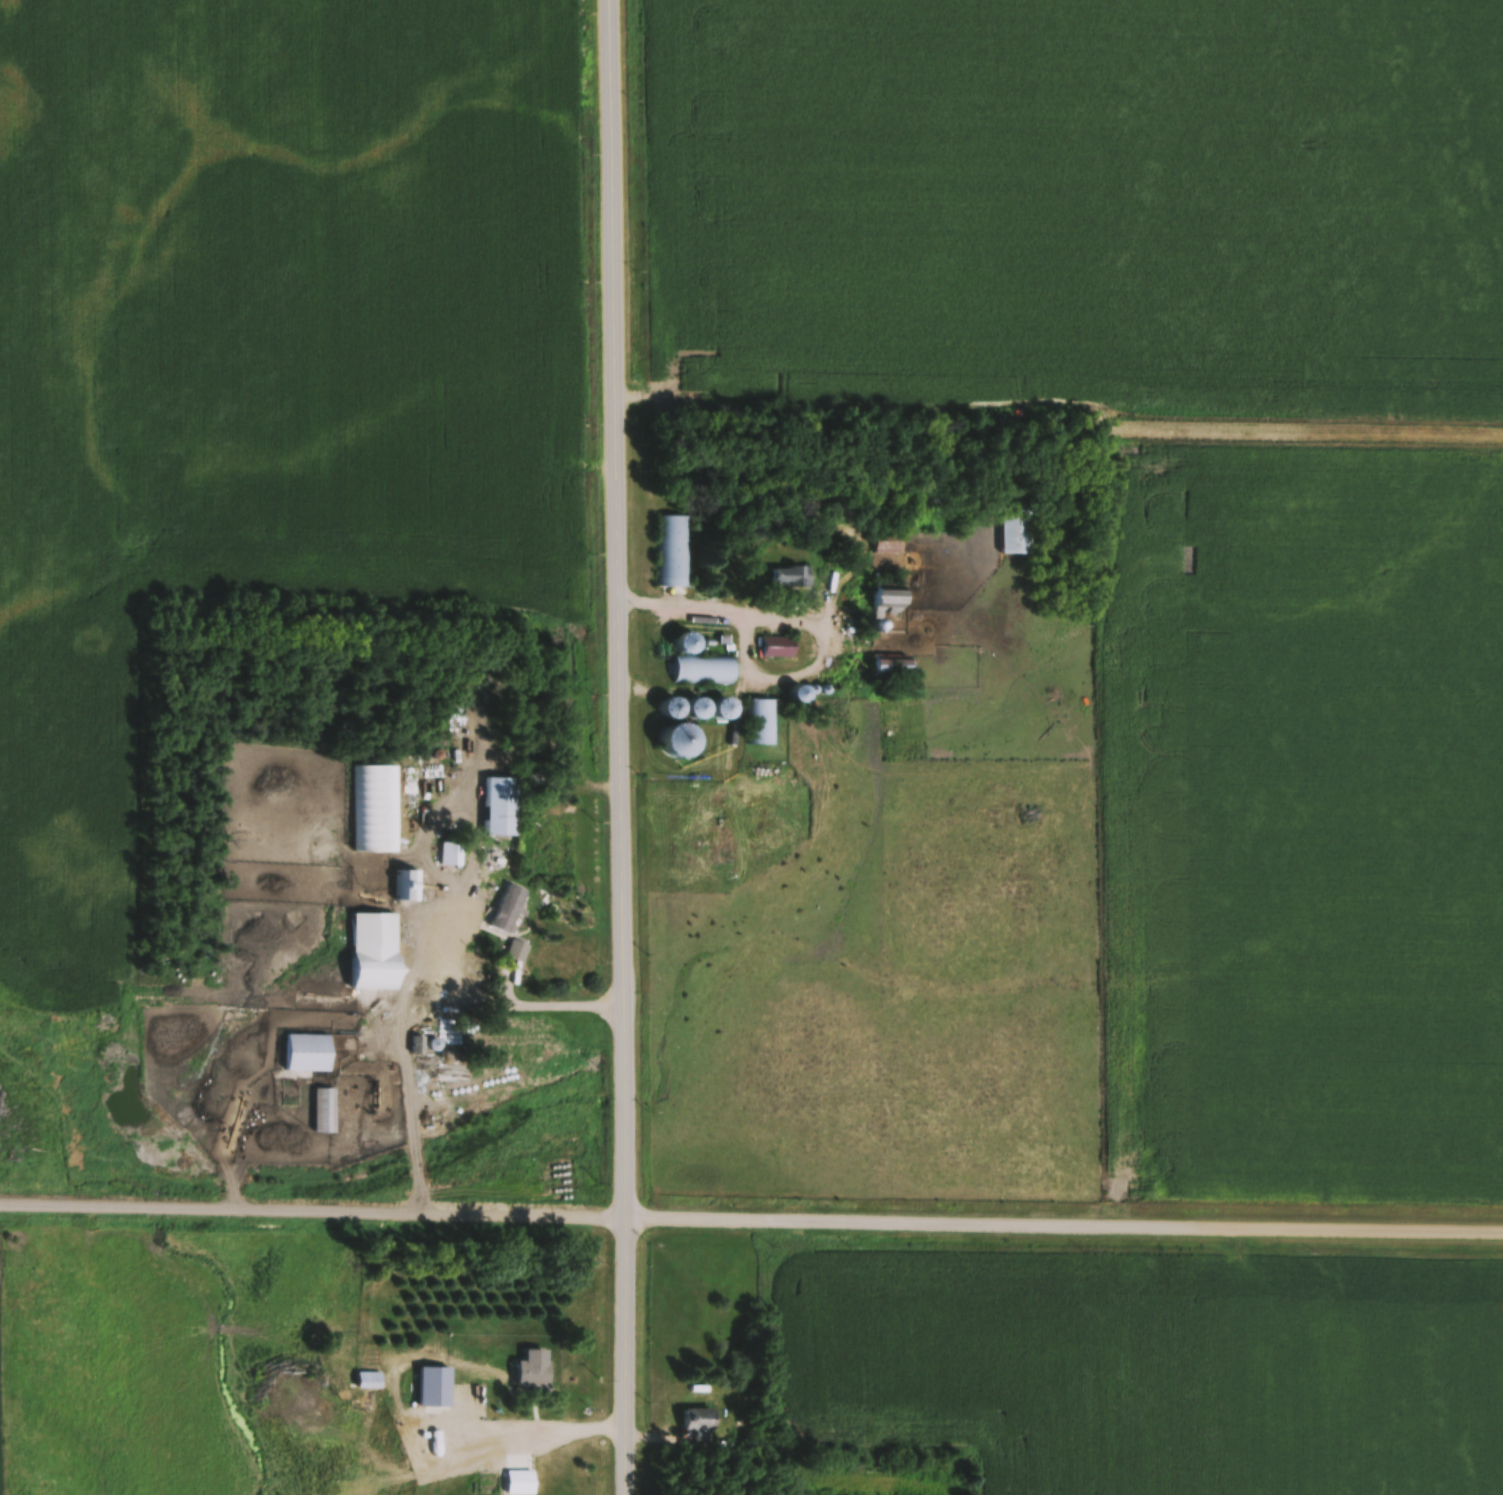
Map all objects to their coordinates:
building: (1017, 536)
building: (888, 543)
building: (671, 551)
building: (790, 576)
building: (689, 643)
building: (779, 648)
building: (893, 665)
building: (704, 670)
building: (674, 708)
building: (713, 708)
building: (760, 722)
building: (682, 740)
road: (623, 747)
building: (535, 783)
building: (501, 806)
building: (375, 808)
building: (449, 853)
building: (407, 884)
building: (509, 907)
building: (518, 950)
building: (375, 951)
road: (408, 1004)
building: (308, 1053)
road: (751, 1220)
building: (535, 1374)
building: (479, 1391)
building: (699, 1419)
road: (527, 1435)
building: (416, 1451)
building: (521, 1483)
building: (480, 1492)

